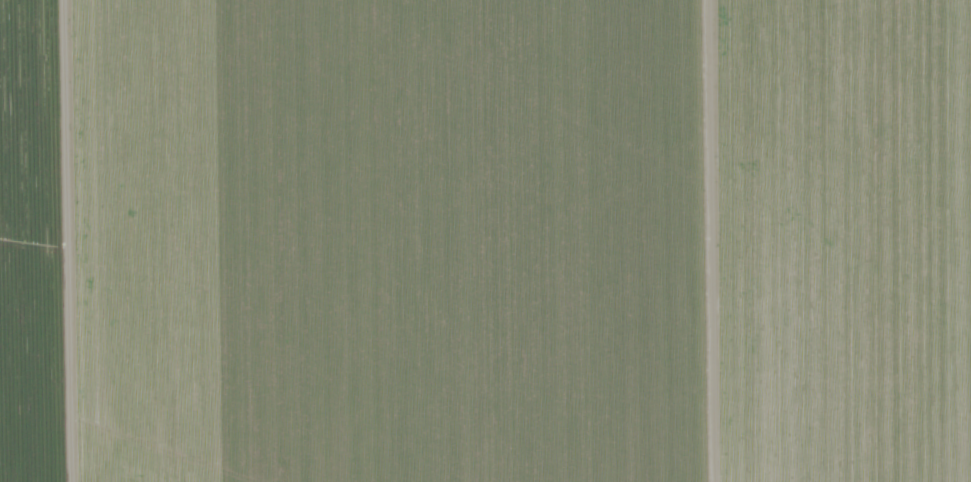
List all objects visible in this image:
crop: (485, 241)

